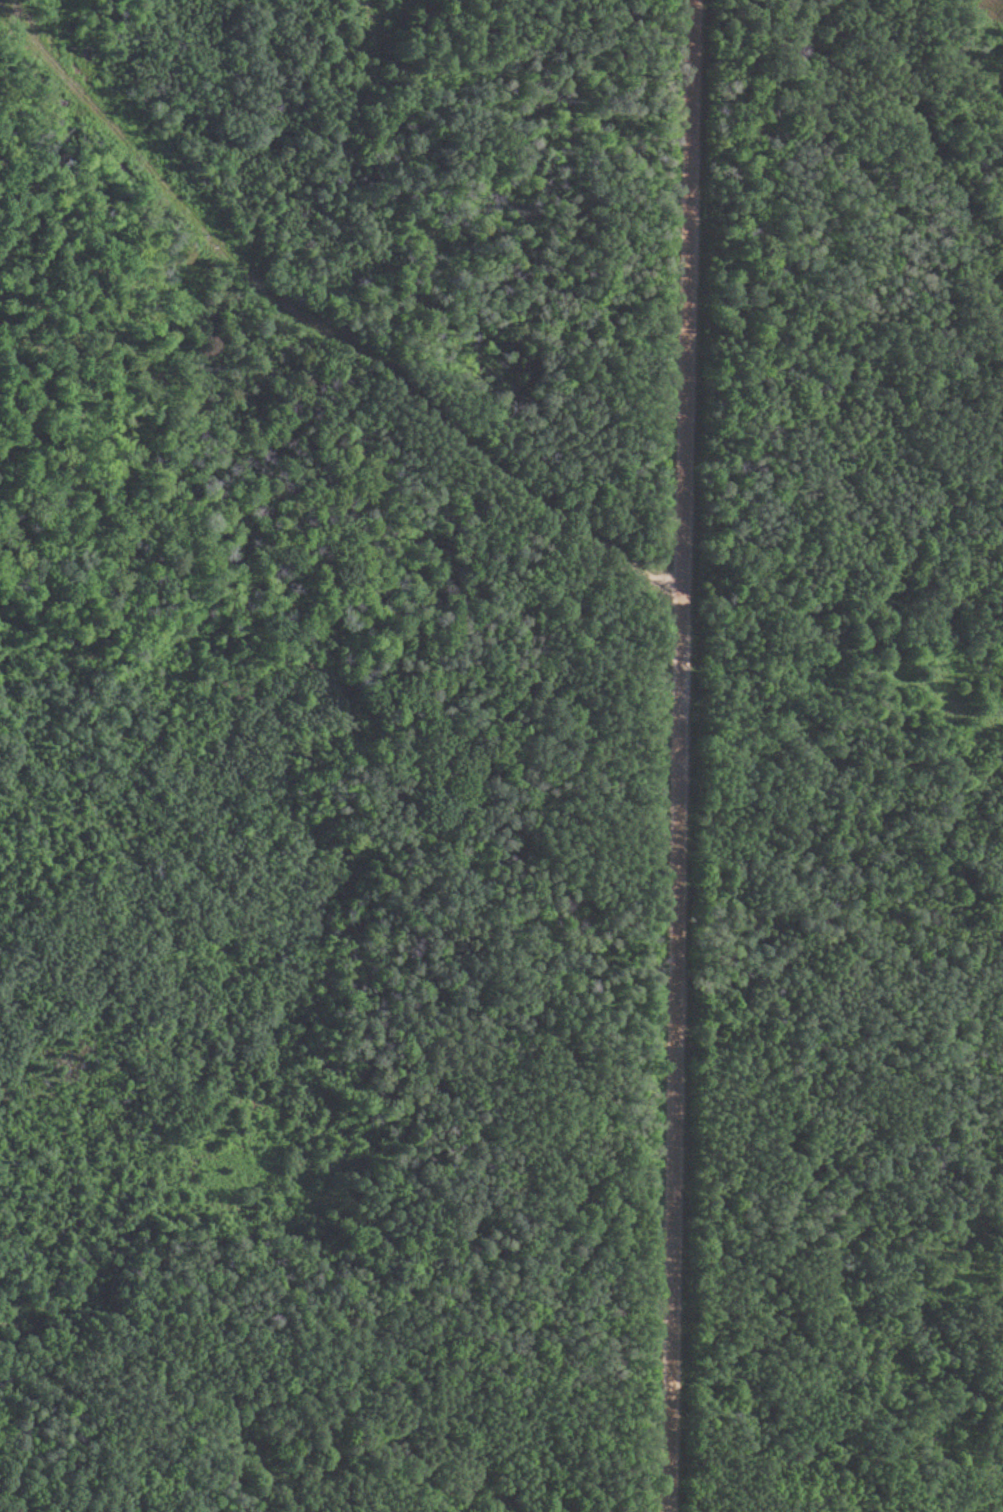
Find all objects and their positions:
road: (336, 313)
road: (688, 756)

